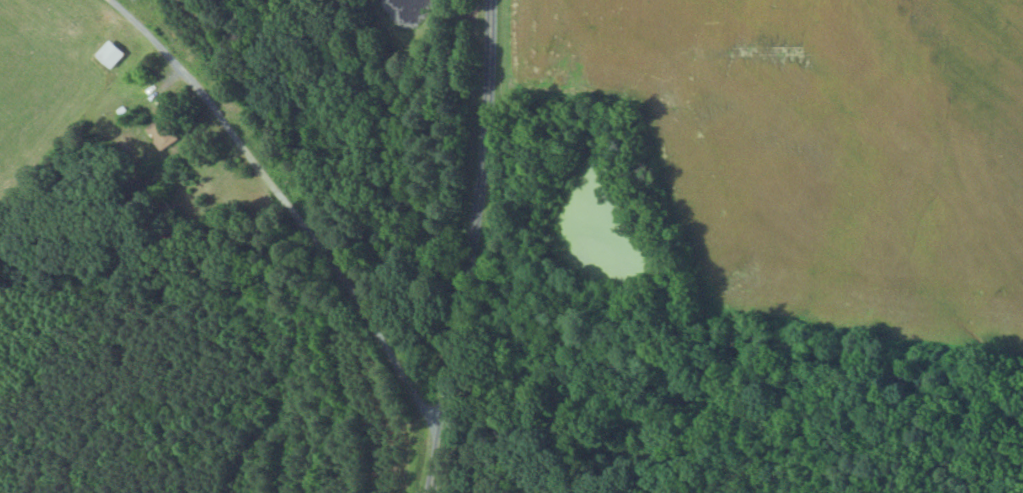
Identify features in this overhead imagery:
building: (109, 54)
road: (287, 206)
road: (470, 247)

